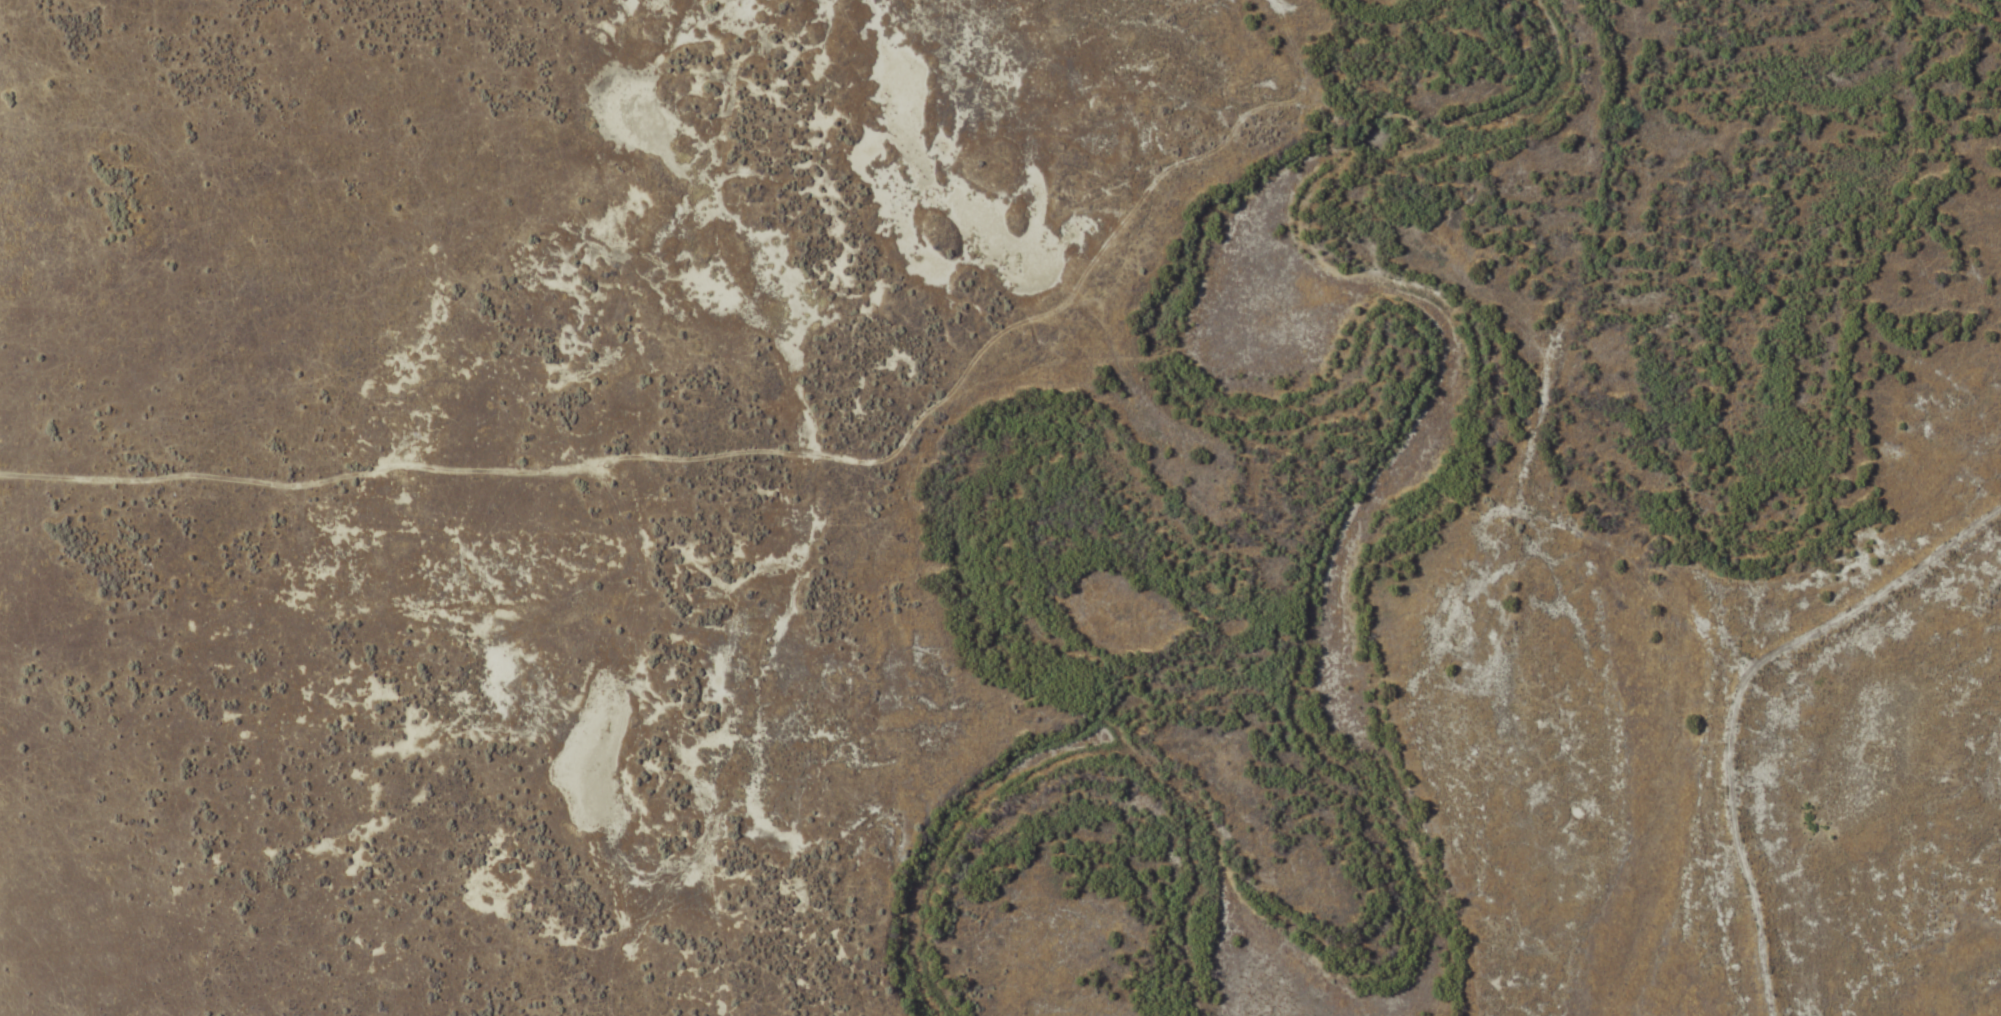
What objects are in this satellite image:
road: (1773, 750)

